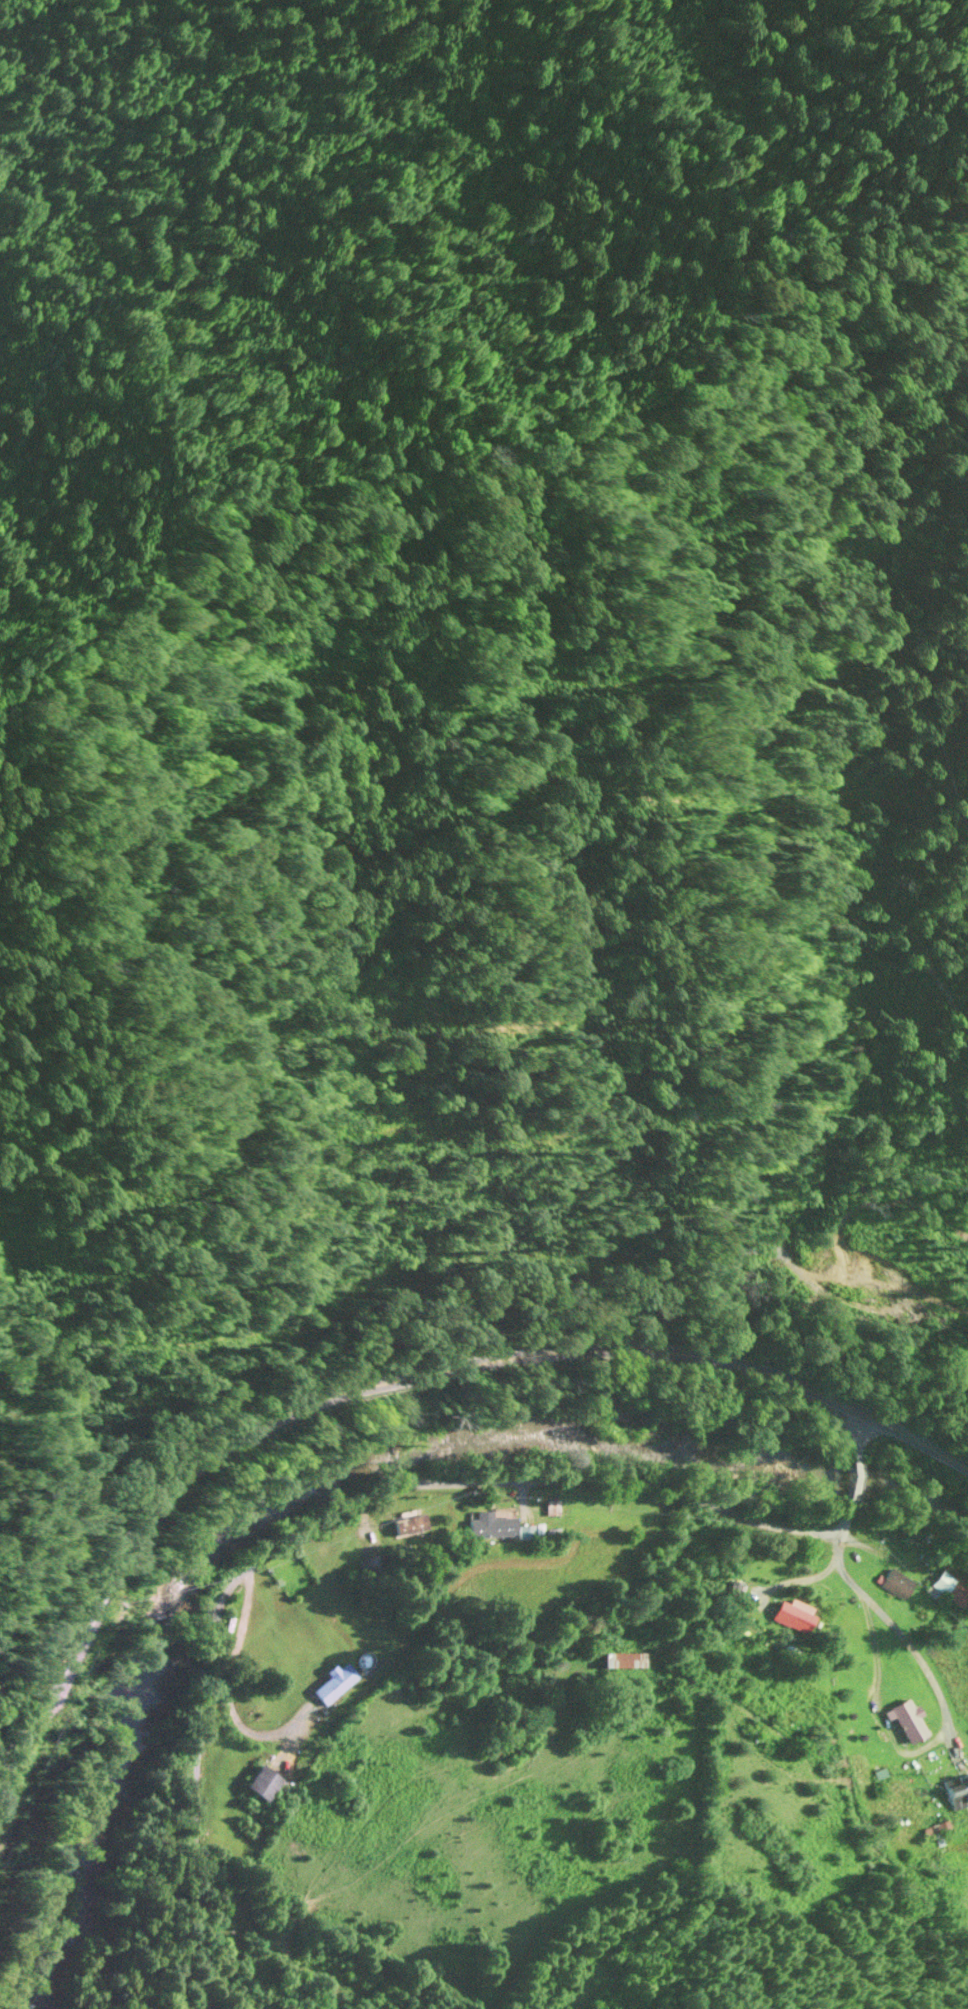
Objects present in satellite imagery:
road: (394, 1379)
road: (858, 1435)
river: (343, 1474)
road: (852, 1485)
road: (326, 1517)
building: (627, 1519)
building: (410, 1524)
building: (494, 1525)
building: (534, 1530)
building: (950, 1589)
building: (795, 1615)
building: (622, 1661)
building: (335, 1684)
building: (906, 1722)
building: (263, 1784)
building: (957, 1791)

